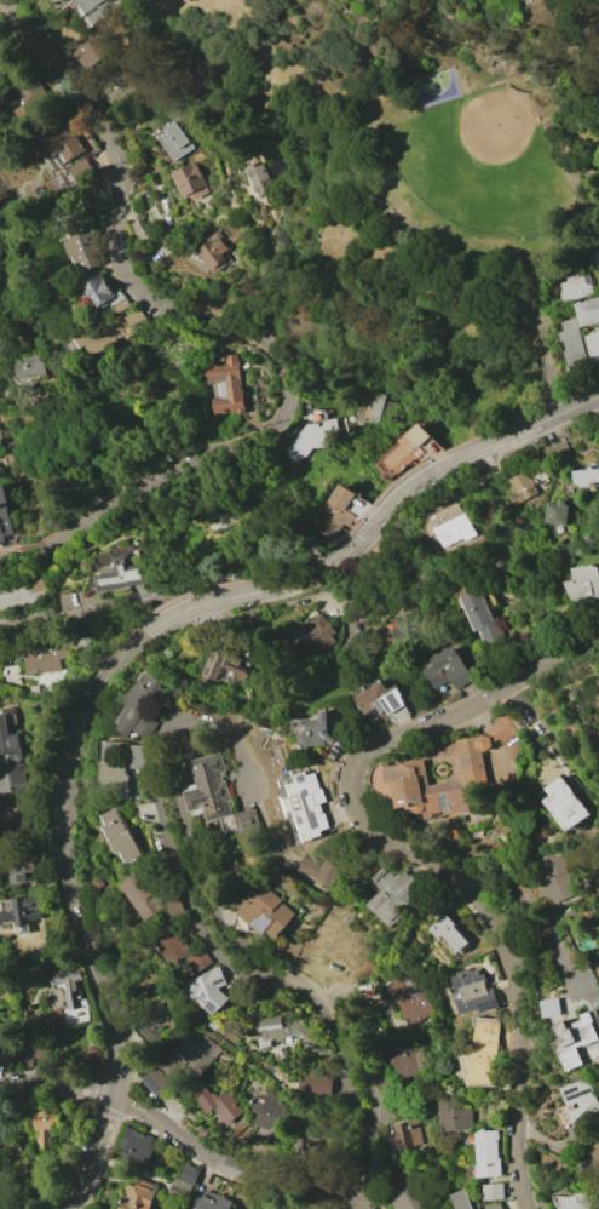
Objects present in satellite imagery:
building: (54, 0)
building: (94, 8)
building: (0, 39)
building: (90, 51)
park: (454, 73)
building: (116, 88)
building: (24, 101)
building: (64, 139)
building: (174, 141)
park: (488, 164)
building: (81, 171)
building: (258, 178)
building: (190, 181)
road: (592, 182)
park: (434, 208)
road: (346, 231)
road: (593, 234)
building: (85, 250)
building: (213, 252)
road: (407, 260)
road: (439, 273)
building: (574, 287)
building: (102, 291)
road: (332, 297)
building: (122, 305)
building: (588, 311)
building: (138, 320)
road: (236, 328)
building: (99, 336)
building: (1, 343)
building: (571, 343)
building: (593, 346)
building: (30, 365)
building: (225, 384)
road: (555, 388)
building: (368, 406)
building: (312, 436)
building: (409, 448)
building: (587, 477)
road: (413, 482)
building: (520, 483)
building: (339, 511)
building: (557, 512)
building: (4, 515)
building: (454, 529)
building: (121, 574)
building: (583, 584)
building: (24, 592)
road: (200, 607)
building: (480, 617)
road: (87, 621)
building: (405, 628)
building: (313, 635)
building: (42, 655)
building: (223, 665)
building: (450, 669)
rooftop solar panel: (398, 693)
rooftop solar panel: (382, 697)
rooftop solar panel: (390, 697)
building: (384, 699)
building: (140, 701)
rooftop solar panel: (330, 724)
road: (537, 724)
building: (149, 726)
building: (324, 730)
rooftop solar panel: (1, 732)
rooftop solar panel: (15, 739)
rooftop solar panel: (4, 745)
road: (246, 747)
building: (11, 756)
building: (121, 766)
building: (437, 770)
building: (213, 787)
rooftop solar panel: (447, 796)
building: (318, 801)
rooftop solar panel: (315, 803)
building: (564, 803)
building: (250, 821)
building: (120, 835)
road: (421, 855)
road: (202, 864)
building: (17, 865)
road: (183, 870)
building: (328, 870)
building: (97, 881)
building: (559, 881)
building: (140, 894)
building: (396, 894)
building: (173, 905)
building: (265, 911)
building: (21, 912)
road: (77, 912)
road: (531, 913)
rooftop solar panel: (265, 921)
building: (448, 927)
building: (178, 947)
rooftop solar panel: (221, 979)
road: (299, 984)
rooftop solar panel: (410, 984)
building: (209, 989)
rooftop solar panel: (417, 992)
building: (473, 992)
rooftop solar panel: (411, 993)
rooftop solar panel: (205, 995)
building: (70, 996)
rooftop solar panel: (198, 997)
building: (408, 998)
rooftop solar panel: (213, 1002)
rooftop solar panel: (424, 1004)
building: (552, 1008)
rooftop solar panel: (414, 1009)
building: (1, 1027)
building: (146, 1031)
building: (277, 1031)
building: (575, 1041)
road: (365, 1048)
building: (33, 1054)
road: (346, 1055)
building: (191, 1059)
building: (404, 1059)
building: (473, 1071)
building: (154, 1079)
building: (315, 1084)
rooftop solar panel: (572, 1088)
rooftop solar panel: (577, 1093)
building: (217, 1104)
building: (582, 1105)
building: (269, 1111)
building: (453, 1116)
building: (42, 1127)
building: (404, 1133)
road: (179, 1138)
building: (309, 1144)
building: (136, 1147)
building: (486, 1153)
building: (594, 1153)
road: (364, 1165)
building: (186, 1178)
building: (493, 1191)
building: (138, 1194)
building: (408, 1197)
building: (462, 1199)
building: (574, 1201)
building: (212, 1202)
building: (287, 1205)
building: (494, 1205)

